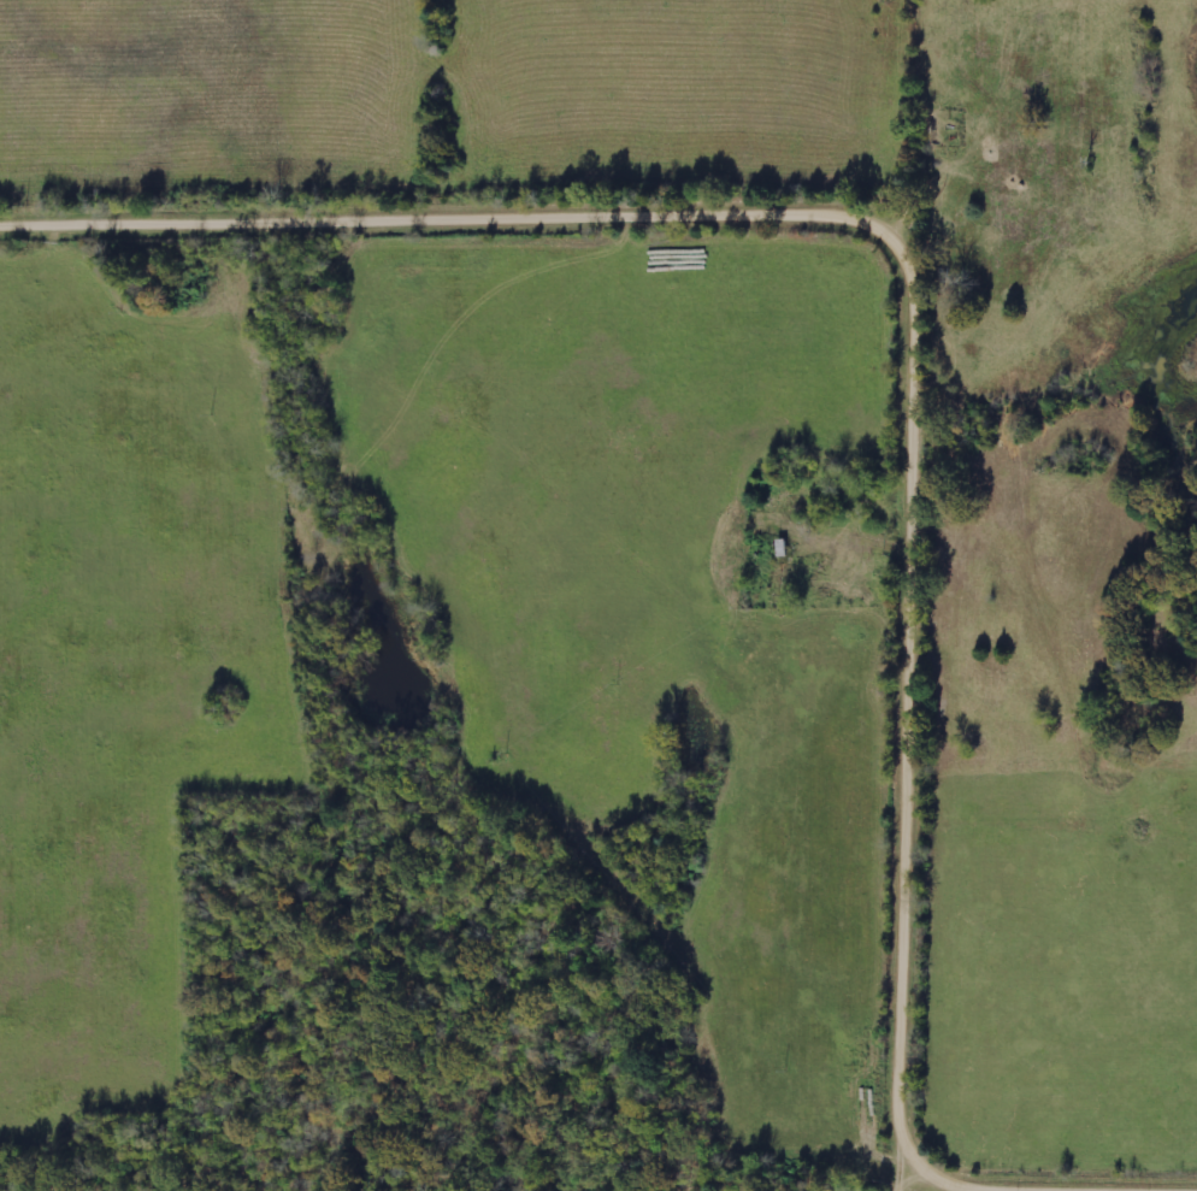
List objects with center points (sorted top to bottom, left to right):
road: (919, 283)

